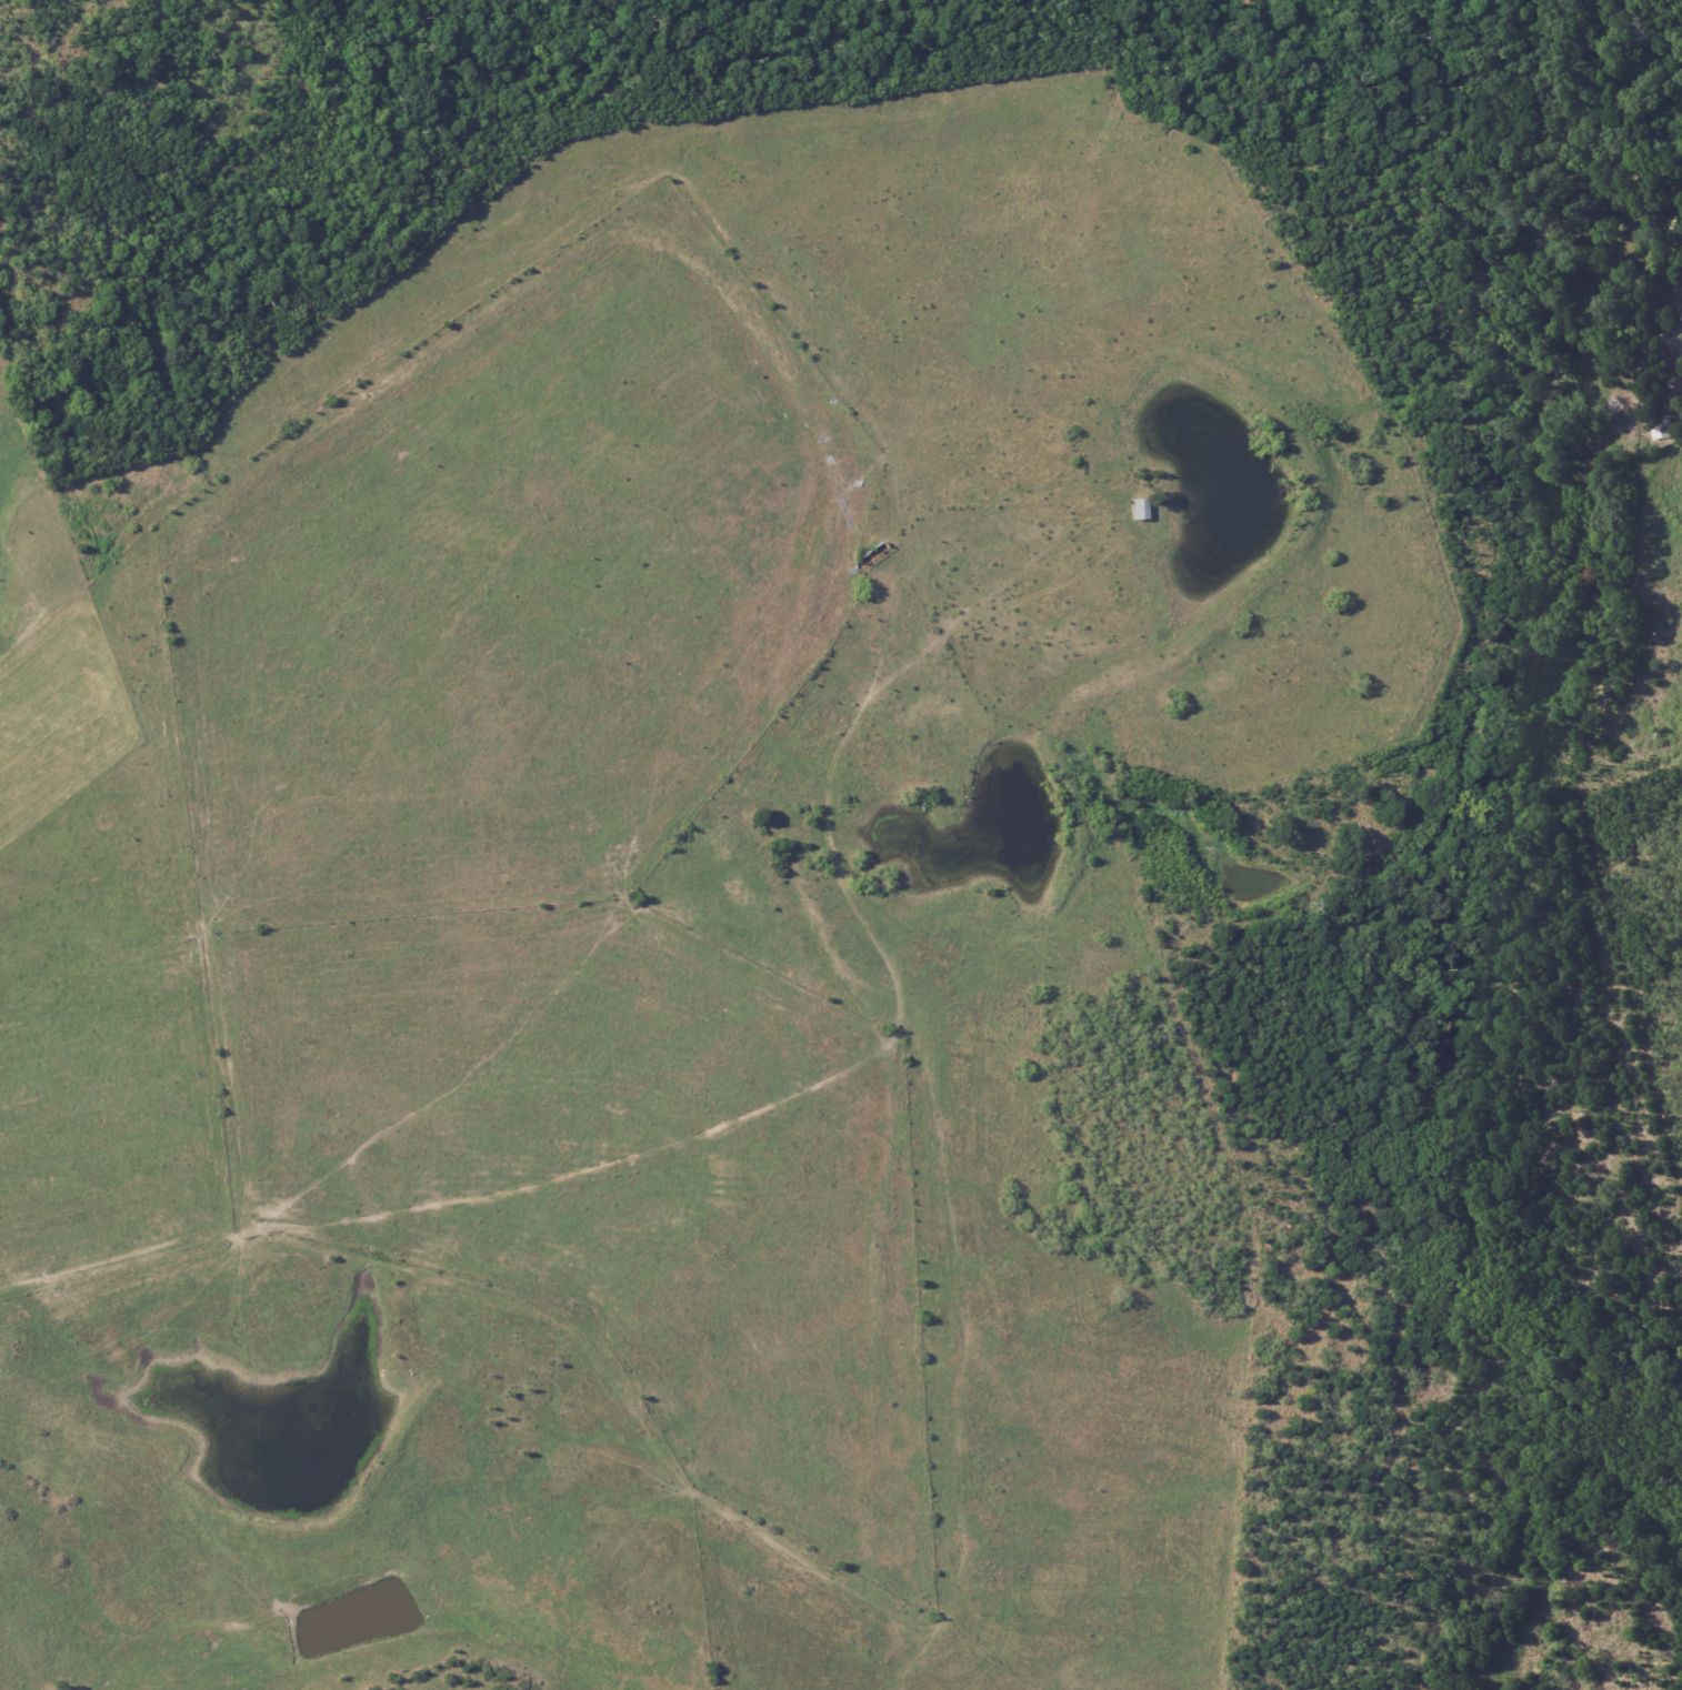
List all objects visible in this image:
building: (1139, 509)

